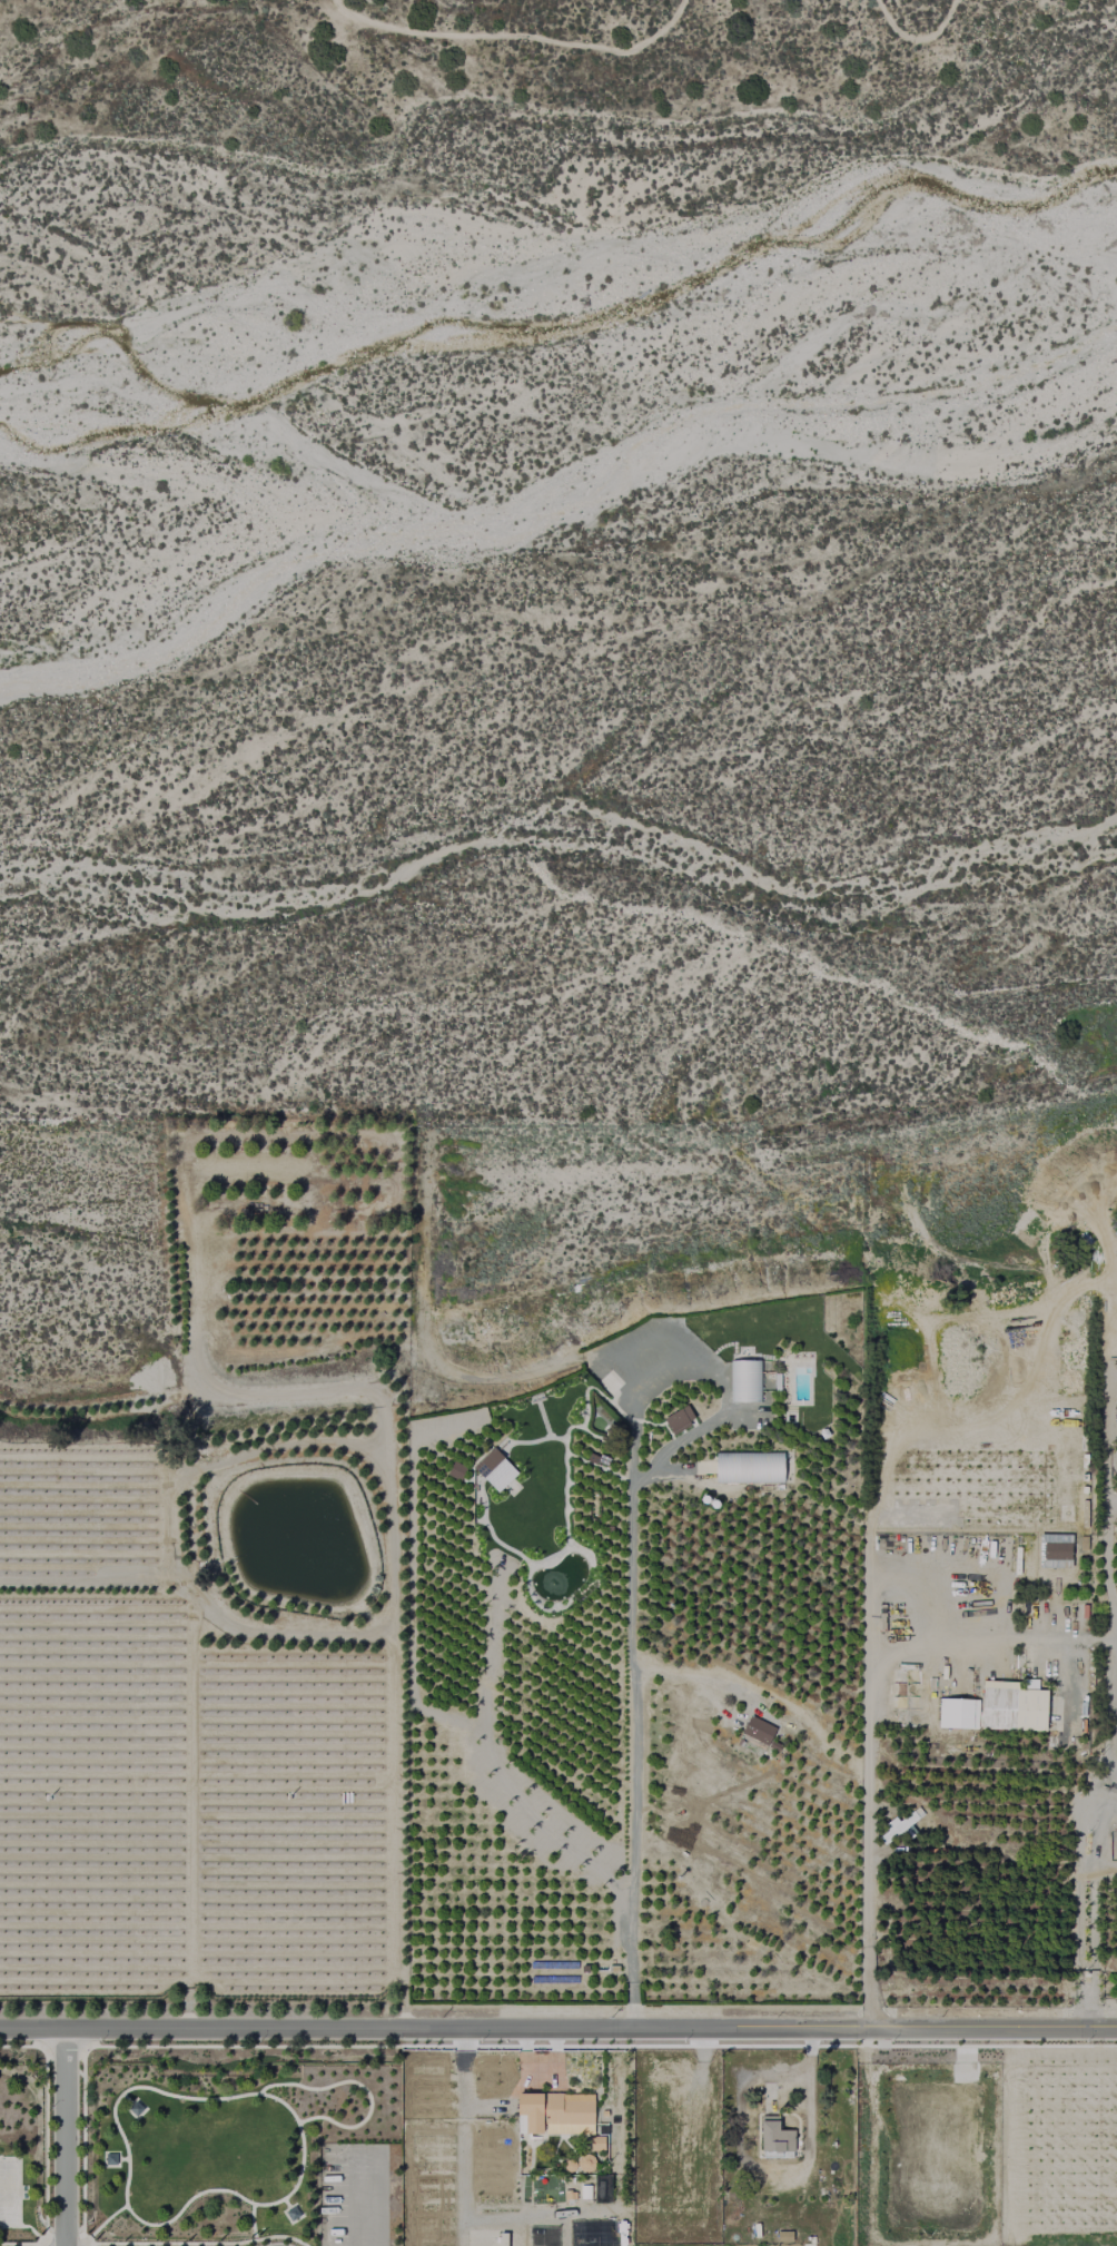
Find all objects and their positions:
road: (930, 30)
road: (526, 35)
river: (567, 501)
building: (744, 1380)
building: (676, 1417)
building: (821, 1432)
building: (748, 1468)
building: (495, 1469)
building: (456, 1470)
building: (702, 1497)
building: (712, 1503)
road: (391, 1547)
road: (629, 1585)
road: (1114, 1629)
building: (1015, 1706)
building: (956, 1713)
road: (868, 1726)
building: (758, 1730)
road: (200, 1786)
road: (1101, 1825)
building: (894, 1829)
road: (1085, 1875)
road: (402, 1889)
road: (1085, 1963)
road: (184, 2000)
road: (1084, 2007)
road: (557, 2028)
road: (83, 2076)
road: (809, 2085)
road: (360, 2087)
road: (161, 2094)
road: (126, 2099)
building: (136, 2109)
building: (554, 2112)
building: (603, 2115)
road: (463, 2136)
road: (66, 2137)
park: (218, 2139)
building: (770, 2140)
building: (596, 2141)
road: (47, 2146)
park: (26, 2147)
building: (111, 2159)
road: (123, 2160)
building: (569, 2164)
building: (585, 2164)
building: (584, 2190)
park: (8, 2193)
road: (19, 2193)
parking lot: (352, 2195)
building: (569, 2195)
road: (369, 2200)
road: (286, 2204)
building: (293, 2214)
road: (109, 2218)
road: (502, 2220)
road: (253, 2223)
road: (29, 2228)
building: (783, 2230)
road: (566, 2232)
road: (90, 2237)
road: (39, 2238)
building: (805, 2245)

